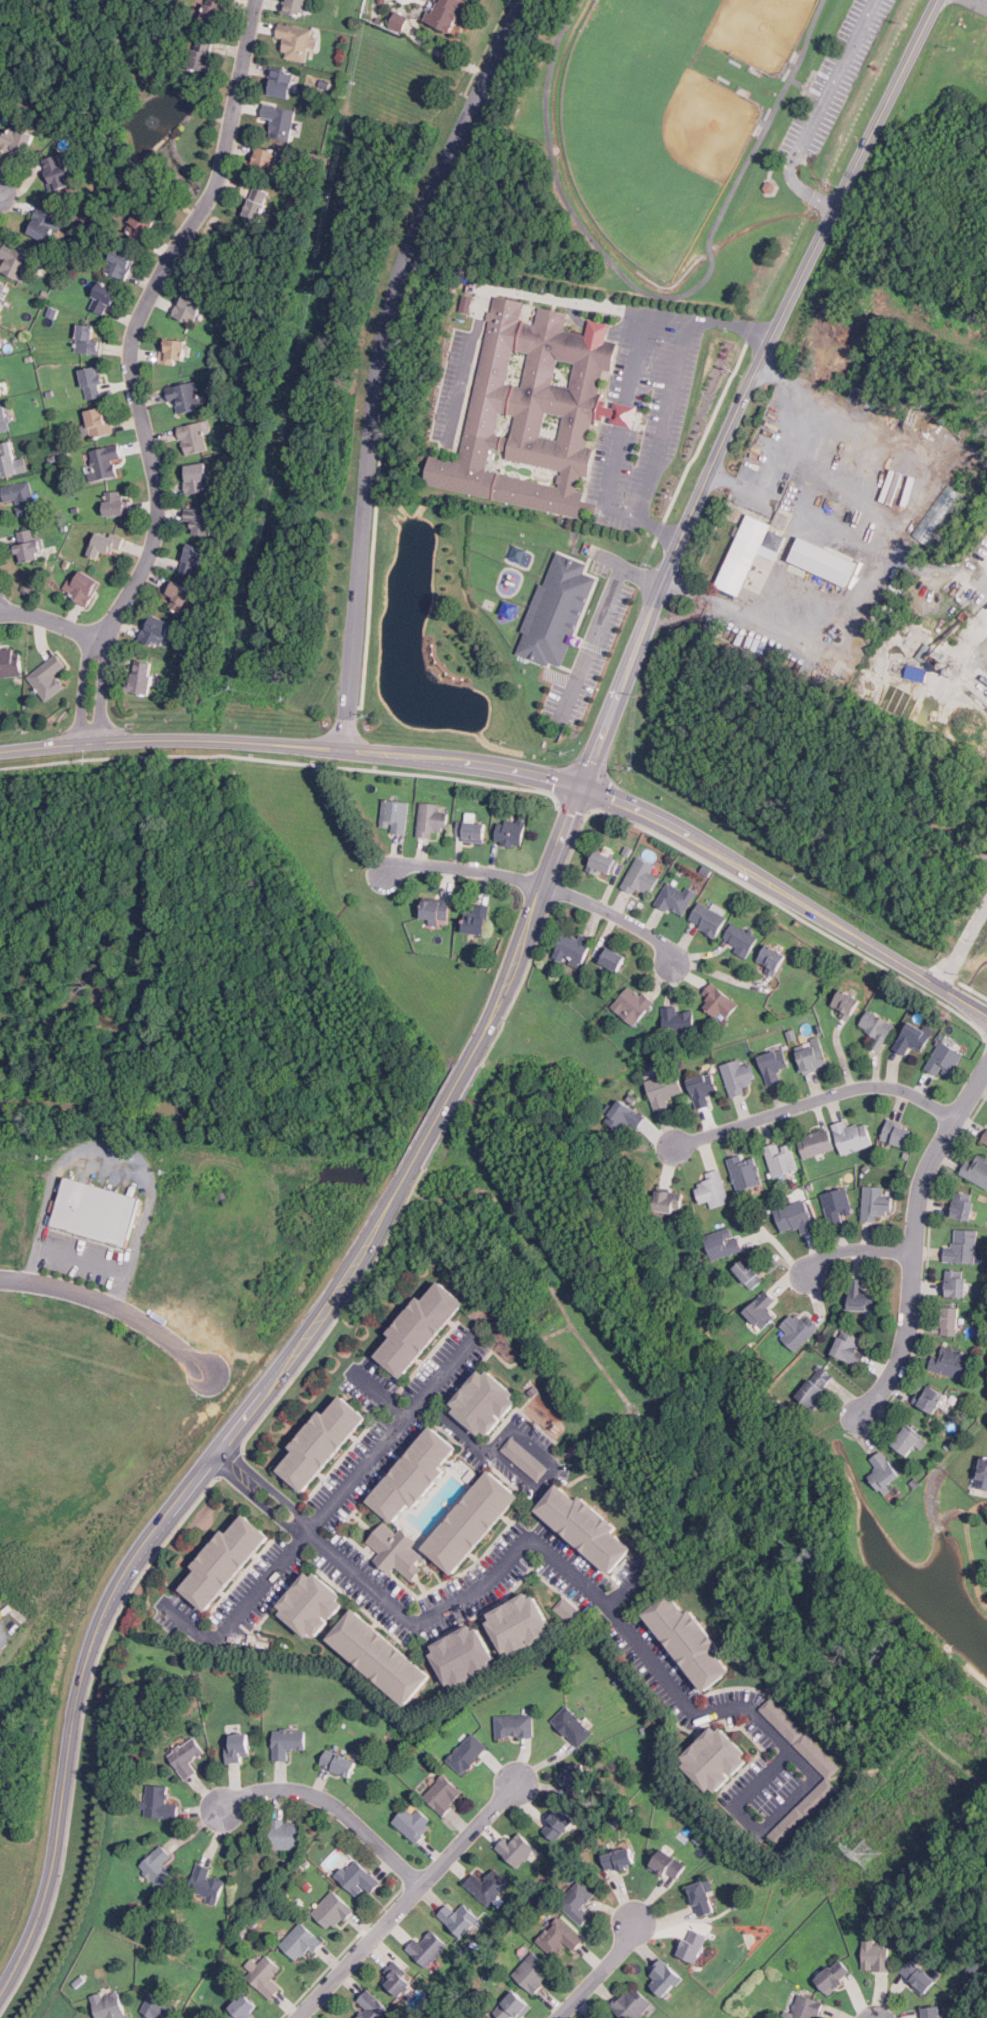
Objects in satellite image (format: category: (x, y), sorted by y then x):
road: (981, 3)
building: (296, 7)
building: (214, 11)
building: (446, 14)
building: (394, 21)
park: (726, 31)
building: (297, 41)
building: (201, 54)
road: (834, 80)
parking lot: (836, 81)
building: (281, 82)
road: (798, 82)
road: (811, 84)
road: (807, 86)
building: (279, 119)
road: (472, 133)
park: (654, 135)
building: (17, 140)
park: (668, 145)
building: (264, 160)
building: (58, 172)
road: (804, 192)
building: (256, 203)
building: (43, 223)
building: (140, 226)
building: (14, 261)
building: (120, 262)
road: (407, 263)
road: (488, 287)
building: (3, 291)
road: (664, 296)
building: (103, 298)
building: (467, 303)
building: (189, 306)
road: (142, 314)
road: (664, 314)
building: (0, 325)
building: (88, 340)
building: (173, 351)
road: (379, 360)
building: (92, 382)
building: (1, 388)
building: (185, 397)
building: (534, 410)
road: (624, 414)
road: (664, 418)
building: (3, 420)
road: (783, 421)
building: (100, 422)
road: (728, 436)
building: (195, 438)
building: (8, 460)
building: (103, 462)
building: (197, 478)
building: (20, 497)
building: (117, 503)
road: (610, 503)
building: (200, 521)
building: (779, 540)
building: (29, 546)
building: (104, 546)
building: (745, 554)
building: (191, 560)
building: (825, 560)
road: (783, 561)
building: (84, 588)
building: (177, 594)
building: (558, 611)
road: (50, 620)
road: (596, 623)
building: (155, 631)
building: (902, 634)
building: (10, 662)
building: (918, 673)
building: (49, 678)
building: (141, 678)
road: (83, 688)
road: (103, 688)
road: (124, 741)
traffic signals: (582, 789)
road: (641, 812)
building: (395, 815)
building: (431, 819)
building: (471, 830)
building: (512, 831)
building: (603, 862)
road: (464, 870)
building: (641, 877)
building: (676, 898)
building: (436, 909)
road: (616, 916)
building: (478, 918)
building: (708, 918)
building: (740, 939)
road: (963, 946)
building: (573, 947)
building: (614, 958)
building: (772, 958)
road: (510, 976)
building: (720, 1001)
building: (633, 1004)
building: (848, 1004)
building: (677, 1020)
building: (877, 1028)
building: (912, 1038)
building: (813, 1055)
building: (944, 1060)
building: (774, 1065)
building: (738, 1076)
building: (664, 1088)
building: (703, 1088)
road: (819, 1102)
road: (439, 1115)
building: (625, 1115)
building: (897, 1133)
building: (852, 1136)
building: (985, 1137)
building: (816, 1143)
building: (780, 1158)
building: (976, 1170)
building: (746, 1171)
building: (713, 1189)
building: (669, 1201)
building: (876, 1202)
building: (837, 1205)
building: (962, 1205)
building: (97, 1209)
building: (795, 1217)
road: (918, 1241)
building: (724, 1243)
building: (963, 1247)
road: (857, 1253)
road: (77, 1260)
building: (749, 1273)
building: (955, 1283)
building: (861, 1296)
road: (115, 1306)
building: (762, 1309)
building: (950, 1320)
building: (421, 1327)
building: (799, 1330)
building: (849, 1348)
building: (949, 1361)
building: (816, 1387)
road: (382, 1395)
building: (931, 1398)
building: (485, 1402)
road: (456, 1428)
building: (322, 1441)
building: (909, 1441)
building: (526, 1458)
road: (555, 1464)
building: (884, 1471)
building: (415, 1474)
building: (983, 1474)
road: (326, 1514)
building: (473, 1521)
building: (586, 1526)
building: (986, 1549)
building: (396, 1550)
road: (145, 1556)
building: (225, 1561)
road: (588, 1586)
building: (312, 1604)
building: (568, 1610)
building: (521, 1624)
building: (690, 1641)
building: (463, 1656)
building: (380, 1657)
building: (515, 1726)
building: (572, 1726)
building: (288, 1742)
building: (238, 1748)
building: (467, 1753)
building: (186, 1757)
building: (716, 1759)
building: (338, 1763)
building: (828, 1772)
building: (575, 1780)
building: (443, 1795)
building: (159, 1803)
road: (336, 1809)
building: (414, 1823)
building: (558, 1823)
building: (287, 1835)
building: (516, 1849)
power tower: (870, 1851)
building: (620, 1859)
building: (668, 1864)
building: (158, 1866)
building: (358, 1877)
building: (205, 1883)
building: (488, 1885)
building: (703, 1898)
road: (411, 1900)
building: (578, 1901)
building: (333, 1910)
building: (460, 1918)
building: (559, 1937)
building: (301, 1942)
building: (692, 1945)
building: (428, 1947)
building: (876, 1955)
road: (599, 1970)
building: (534, 1972)
building: (265, 1976)
building: (835, 1976)
building: (919, 1976)
building: (665, 1977)
building: (398, 1979)
building: (632, 2003)
building: (109, 2005)
building: (373, 2006)
building: (512, 2006)
building: (159, 2008)
building: (803, 2008)
building: (242, 2009)
building: (932, 2012)
building: (481, 2017)
building: (486, 2017)
building: (606, 2017)
building: (610, 2017)

